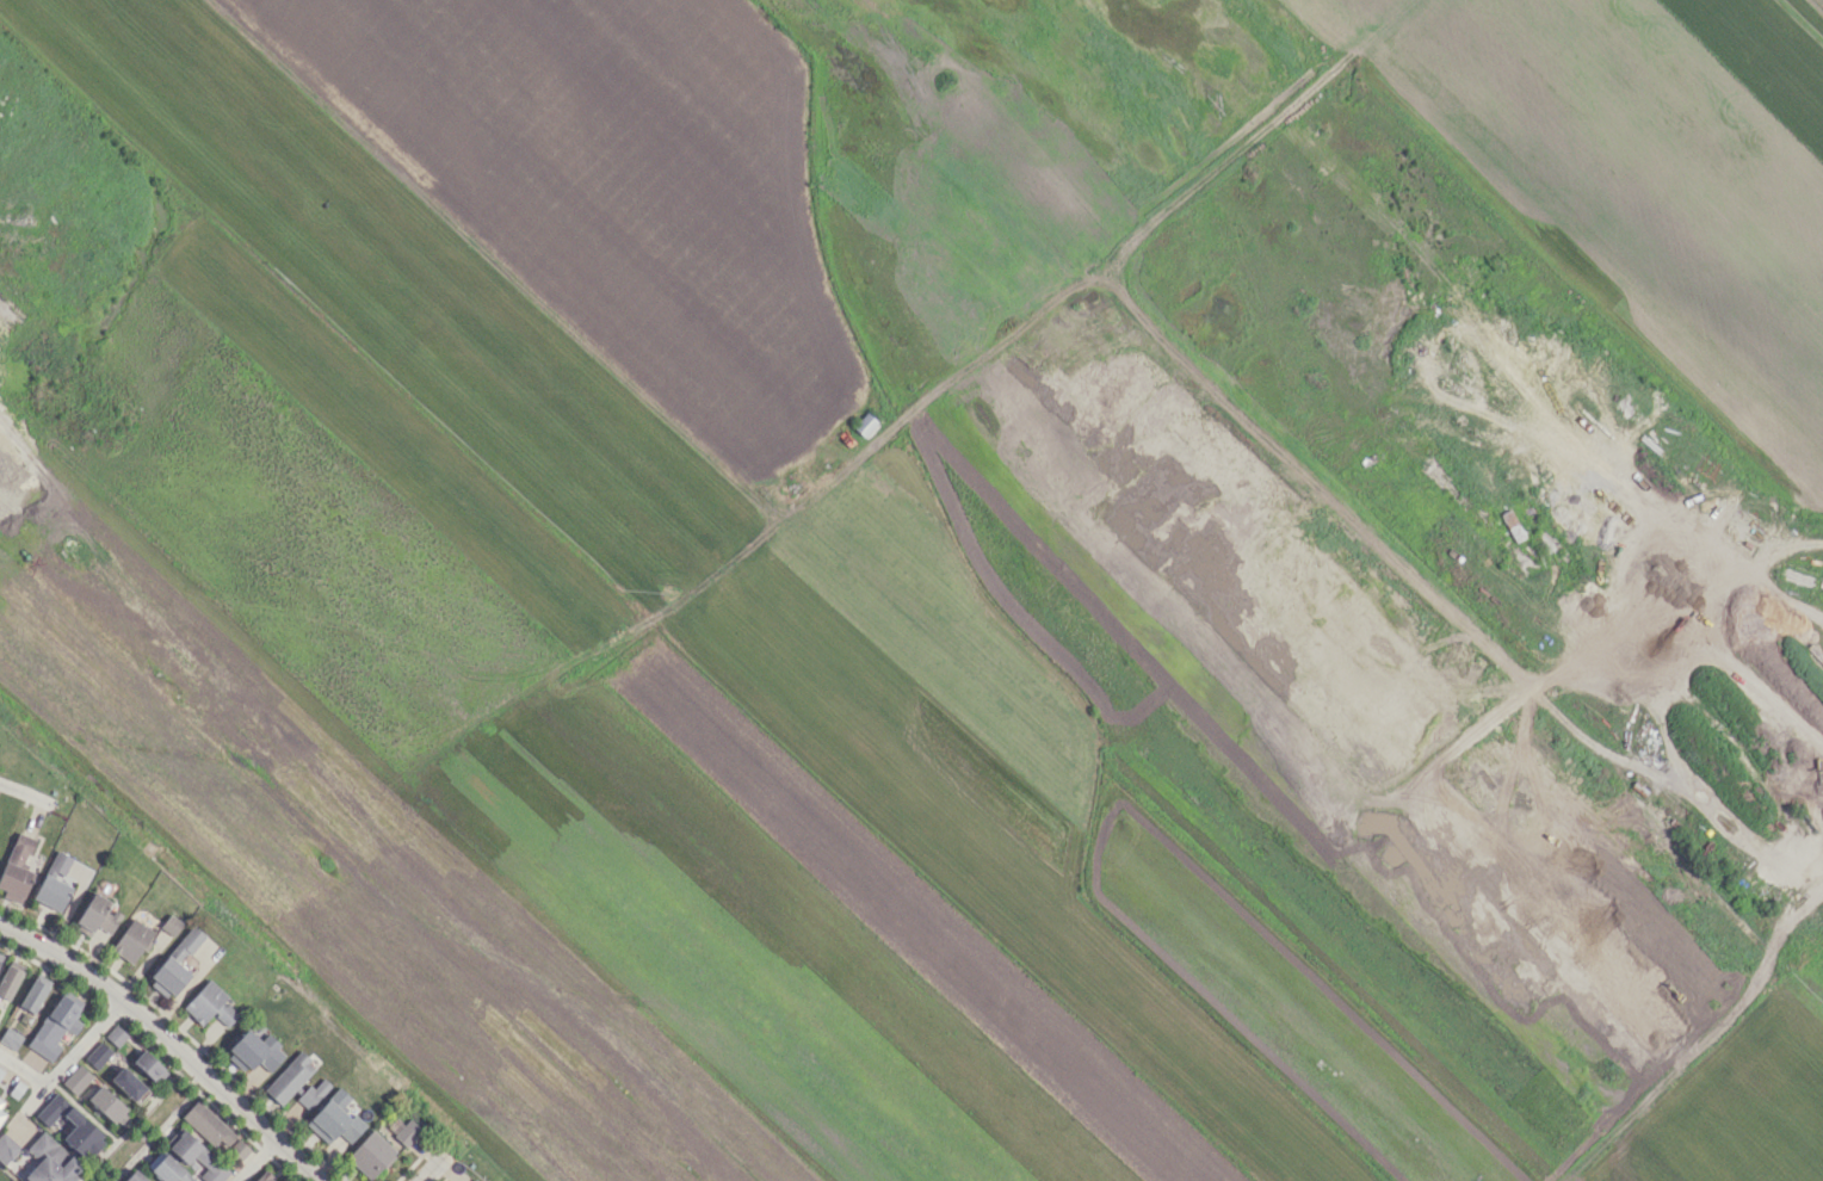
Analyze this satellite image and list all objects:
road: (24, 792)
building: (58, 862)
building: (16, 868)
building: (50, 891)
building: (95, 915)
building: (169, 925)
building: (130, 940)
building: (0, 956)
building: (173, 965)
building: (8, 978)
building: (33, 994)
building: (209, 1004)
building: (54, 1024)
building: (115, 1035)
building: (8, 1038)
road: (167, 1044)
building: (252, 1051)
road: (68, 1055)
building: (97, 1055)
building: (149, 1068)
road: (20, 1069)
building: (0, 1071)
building: (289, 1077)
building: (75, 1078)
building: (126, 1083)
building: (16, 1089)
building: (314, 1093)
building: (105, 1103)
building: (1, 1114)
building: (334, 1118)
building: (206, 1125)
building: (80, 1126)
building: (402, 1130)
building: (6, 1146)
building: (237, 1149)
building: (369, 1154)
building: (197, 1157)
road: (254, 1158)
building: (44, 1162)
building: (166, 1168)
road: (426, 1168)
building: (134, 1176)
building: (262, 1177)
building: (474, 1180)

